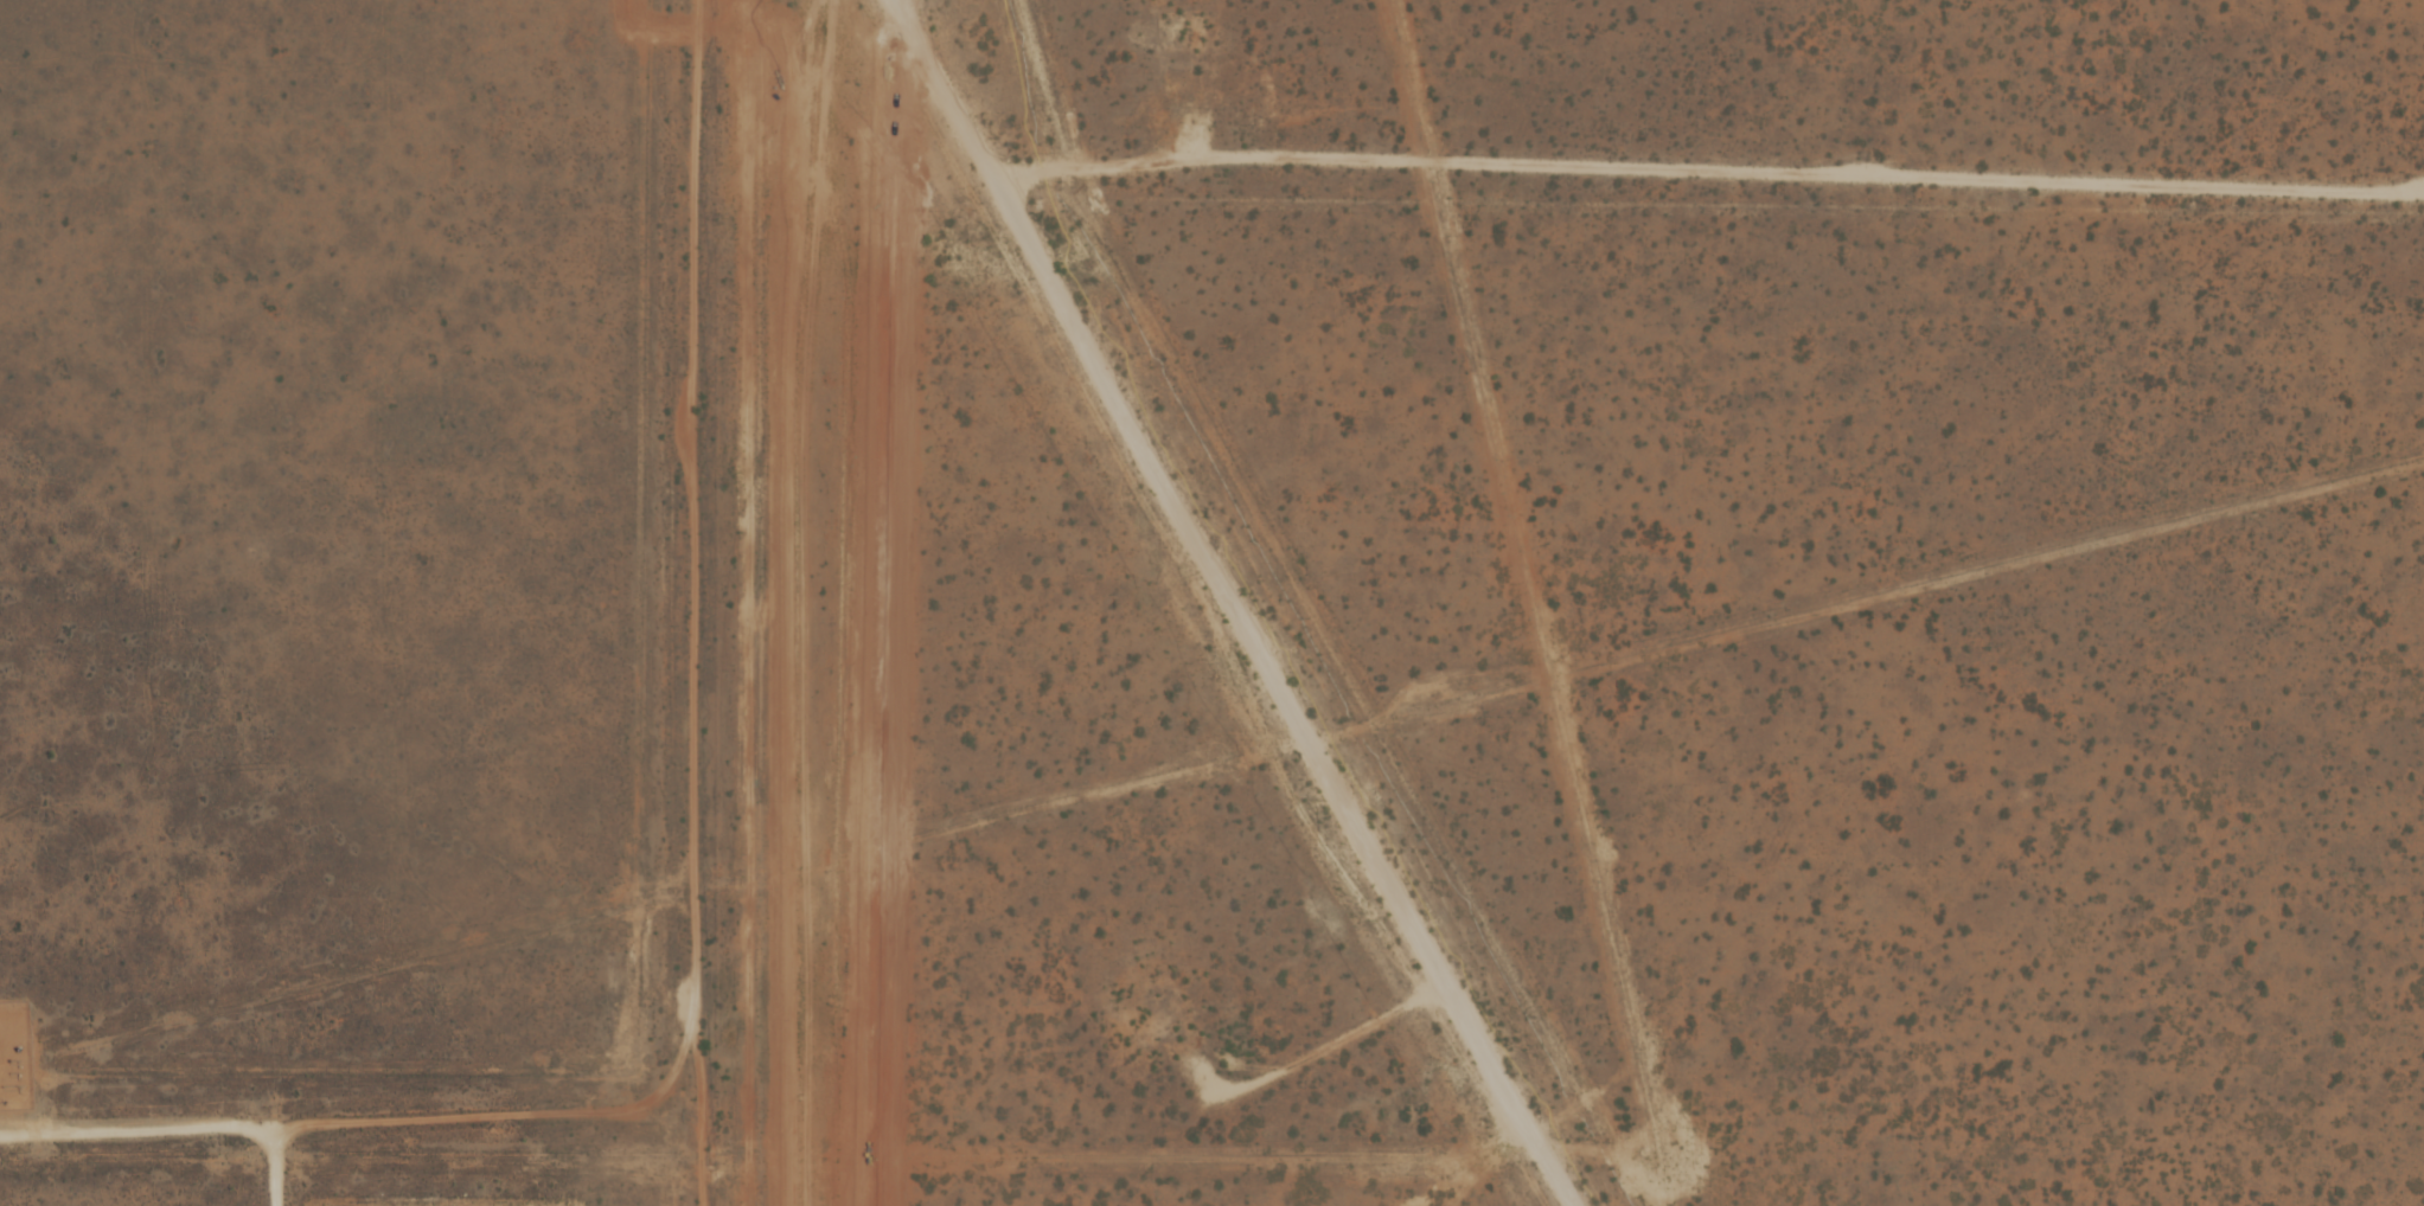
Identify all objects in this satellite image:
road: (1702, 171)
road: (706, 603)
road: (1233, 603)
road: (136, 1117)
road: (275, 1159)

